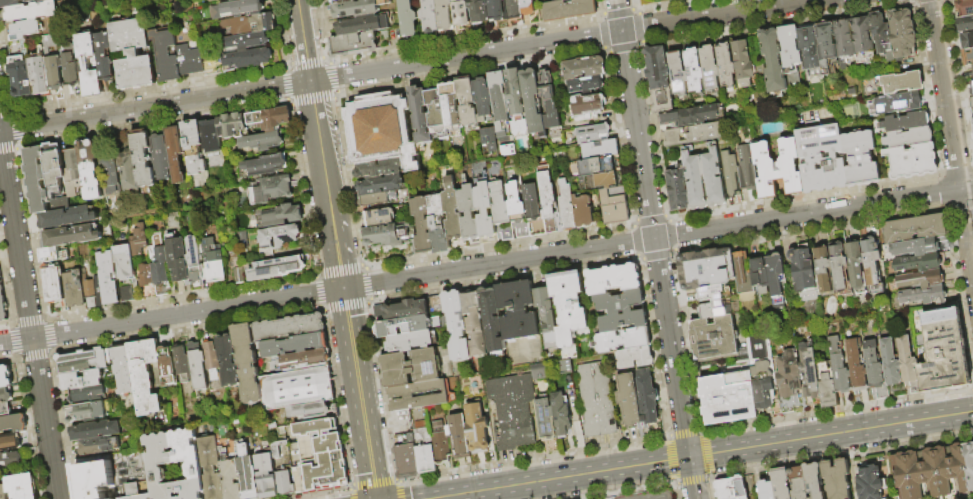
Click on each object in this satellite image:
building: (219, 0)
building: (568, 0)
building: (237, 1)
building: (341, 1)
building: (19, 3)
building: (527, 7)
building: (965, 7)
building: (359, 9)
building: (237, 10)
building: (513, 10)
building: (569, 10)
park: (682, 10)
building: (478, 11)
building: (496, 11)
building: (32, 13)
building: (460, 13)
building: (443, 15)
building: (429, 17)
building: (408, 19)
building: (965, 24)
building: (250, 26)
building: (363, 26)
building: (25, 31)
building: (880, 34)
building: (902, 34)
building: (862, 40)
building: (967, 41)
building: (248, 42)
building: (834, 43)
building: (359, 44)
building: (789, 46)
building: (808, 46)
building: (18, 50)
building: (133, 55)
building: (105, 56)
building: (166, 56)
building: (967, 57)
building: (247, 60)
building: (189, 62)
building: (772, 62)
building: (742, 63)
building: (725, 65)
building: (90, 66)
road: (405, 66)
building: (709, 68)
building: (585, 69)
building: (693, 71)
building: (759, 71)
building: (71, 72)
building: (677, 73)
building: (55, 74)
building: (40, 77)
building: (22, 78)
building: (658, 79)
building: (901, 83)
building: (587, 86)
building: (971, 89)
building: (547, 91)
building: (499, 97)
building: (483, 100)
building: (468, 102)
building: (971, 102)
building: (534, 103)
building: (896, 103)
building: (518, 105)
building: (589, 108)
building: (452, 110)
building: (437, 114)
building: (421, 116)
building: (691, 116)
building: (270, 119)
building: (905, 122)
building: (972, 122)
building: (231, 126)
building: (381, 131)
road: (952, 132)
building: (594, 134)
building: (693, 134)
building: (908, 138)
building: (210, 139)
building: (488, 139)
building: (262, 142)
building: (599, 147)
building: (193, 148)
building: (175, 154)
building: (142, 158)
building: (160, 158)
building: (820, 158)
building: (859, 159)
building: (912, 161)
building: (263, 166)
building: (593, 168)
building: (746, 168)
building: (53, 169)
building: (90, 169)
building: (777, 169)
building: (128, 171)
building: (73, 173)
building: (111, 175)
building: (729, 175)
building: (712, 177)
building: (379, 178)
building: (36, 179)
building: (607, 181)
building: (693, 181)
building: (677, 189)
building: (269, 190)
building: (611, 199)
building: (374, 200)
building: (549, 203)
building: (59, 204)
building: (485, 210)
building: (568, 210)
building: (453, 211)
building: (502, 211)
building: (518, 211)
building: (533, 212)
building: (584, 213)
building: (616, 214)
building: (469, 215)
building: (278, 216)
building: (66, 217)
building: (380, 218)
building: (438, 225)
building: (423, 227)
building: (914, 228)
building: (70, 236)
building: (389, 236)
building: (138, 240)
building: (276, 240)
building: (915, 247)
road: (336, 249)
road: (655, 249)
building: (192, 252)
building: (53, 255)
building: (177, 258)
building: (211, 263)
building: (919, 263)
building: (124, 265)
road: (486, 265)
building: (838, 265)
building: (871, 265)
building: (159, 267)
building: (855, 267)
building: (276, 268)
building: (704, 269)
building: (822, 269)
building: (759, 272)
building: (803, 273)
building: (237, 275)
building: (105, 280)
building: (614, 280)
building: (776, 280)
building: (921, 280)
building: (147, 281)
building: (744, 282)
building: (53, 284)
building: (74, 289)
traffic signals: (342, 289)
building: (89, 292)
building: (126, 295)
building: (923, 296)
building: (712, 302)
building: (2, 307)
building: (570, 307)
building: (406, 310)
building: (518, 311)
building: (622, 312)
building: (547, 315)
road: (28, 319)
building: (493, 321)
building: (476, 325)
building: (458, 326)
building: (403, 327)
building: (291, 328)
building: (714, 340)
building: (622, 341)
building: (412, 342)
building: (295, 346)
building: (943, 352)
building: (635, 358)
building: (212, 361)
building: (84, 362)
building: (229, 362)
building: (304, 363)
building: (247, 364)
building: (890, 364)
building: (183, 365)
building: (908, 365)
building: (198, 367)
building: (856, 367)
building: (168, 368)
building: (411, 369)
building: (123, 370)
building: (536, 370)
building: (874, 370)
building: (761, 371)
building: (809, 371)
building: (840, 375)
building: (145, 377)
building: (5, 378)
building: (787, 380)
building: (82, 381)
building: (827, 387)
building: (297, 389)
building: (86, 395)
building: (6, 397)
building: (419, 397)
building: (648, 397)
building: (727, 399)
building: (596, 400)
building: (630, 401)
building: (5, 411)
building: (309, 412)
building: (513, 412)
building: (87, 413)
building: (562, 417)
building: (546, 421)
building: (14, 424)
building: (477, 430)
building: (96, 431)
building: (460, 436)
building: (10, 443)
building: (441, 445)
building: (99, 446)
building: (425, 449)
road: (700, 456)
building: (406, 457)
traffic signals: (689, 458)
building: (319, 459)
building: (11, 461)
building: (157, 465)
building: (210, 468)
building: (283, 468)
building: (131, 472)
building: (933, 472)
building: (248, 474)
building: (266, 475)
building: (230, 479)
building: (836, 479)
building: (94, 480)
building: (805, 482)
building: (868, 482)
building: (780, 485)
building: (22, 487)
building: (730, 489)
building: (765, 490)
building: (3, 492)

